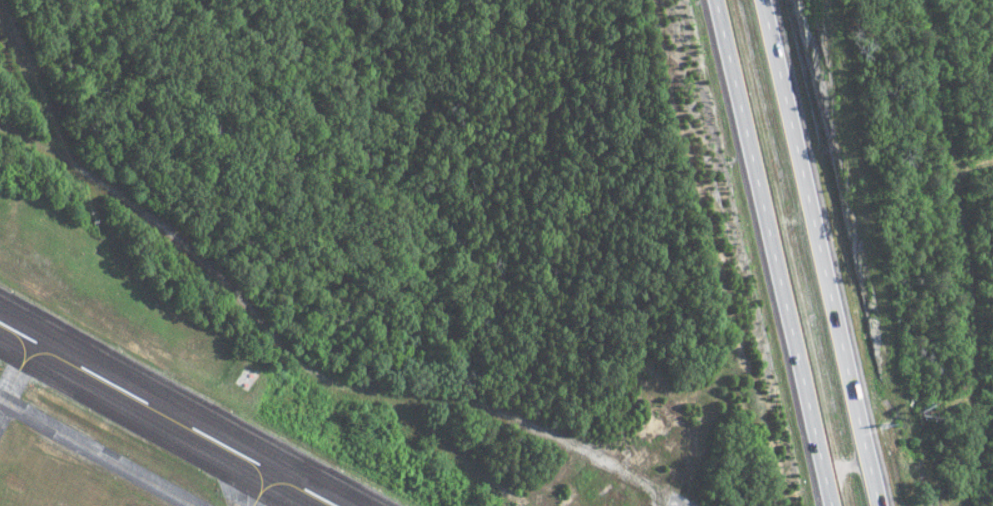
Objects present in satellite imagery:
road: (772, 252)
road: (823, 252)
airport taxiway: (9, 385)
airport: (208, 393)
airport runway: (198, 397)
airport runway: (133, 432)
airport taxiway: (96, 453)
airport taxiway: (253, 502)

